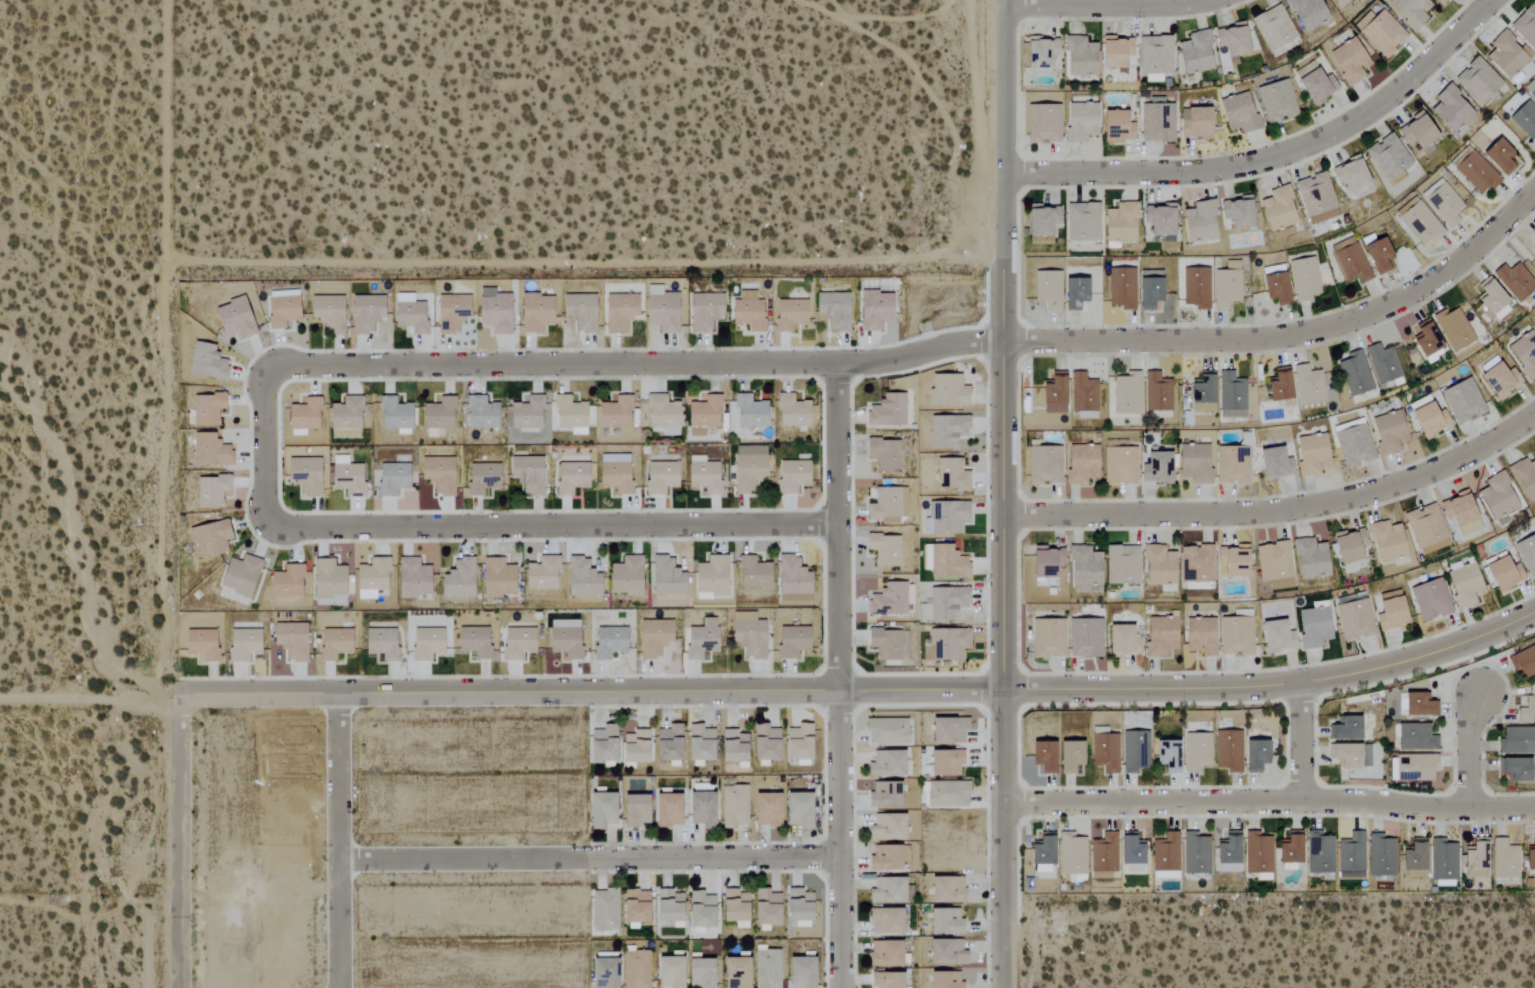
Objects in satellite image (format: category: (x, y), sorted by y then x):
building: (1438, 1)
building: (1339, 2)
road: (1110, 4)
building: (1409, 11)
building: (1307, 13)
building: (1525, 26)
building: (1273, 27)
building: (1380, 33)
building: (1231, 40)
building: (1040, 52)
building: (1114, 52)
building: (1195, 53)
building: (1155, 55)
building: (1506, 56)
building: (1079, 57)
building: (1348, 62)
building: (1478, 81)
building: (1316, 87)
building: (1531, 88)
building: (1276, 101)
building: (1450, 109)
building: (1238, 113)
building: (1525, 120)
building: (1080, 122)
building: (1043, 123)
building: (1157, 123)
building: (1195, 123)
building: (1116, 127)
building: (1416, 133)
road: (1275, 157)
building: (1388, 157)
building: (1499, 157)
building: (1476, 173)
building: (1350, 175)
building: (1316, 198)
building: (1444, 205)
building: (1277, 209)
building: (1236, 213)
building: (1041, 220)
building: (1159, 220)
building: (1199, 221)
building: (1083, 222)
building: (1120, 223)
building: (1420, 223)
building: (1533, 238)
building: (1533, 250)
building: (1378, 257)
building: (1349, 261)
building: (1231, 266)
building: (1304, 279)
building: (1515, 281)
building: (1274, 286)
building: (1196, 288)
building: (1121, 289)
building: (1148, 289)
building: (1225, 289)
building: (1047, 290)
building: (1073, 294)
building: (1492, 301)
building: (281, 308)
building: (660, 310)
building: (833, 310)
building: (873, 310)
building: (580, 312)
building: (619, 312)
building: (703, 312)
building: (747, 312)
building: (327, 313)
building: (450, 313)
building: (534, 313)
building: (364, 314)
building: (409, 314)
building: (788, 315)
building: (1453, 329)
building: (1427, 344)
road: (1004, 346)
road: (165, 349)
road: (922, 350)
building: (1524, 353)
building: (205, 362)
building: (1382, 363)
building: (1355, 374)
building: (1499, 381)
building: (1308, 385)
building: (1278, 386)
building: (947, 391)
building: (1157, 393)
building: (1201, 393)
building: (1053, 394)
building: (1127, 394)
building: (1231, 396)
building: (1462, 402)
building: (206, 410)
building: (886, 411)
building: (749, 412)
building: (791, 412)
building: (480, 413)
building: (613, 413)
building: (394, 414)
building: (527, 414)
building: (302, 415)
building: (437, 415)
building: (569, 415)
building: (662, 415)
building: (703, 415)
building: (345, 418)
building: (1428, 421)
building: (947, 430)
building: (1388, 433)
building: (1353, 445)
building: (883, 454)
building: (1311, 455)
building: (1194, 463)
building: (1080, 464)
building: (1274, 464)
building: (1044, 466)
building: (1119, 466)
building: (1232, 466)
building: (748, 468)
building: (1156, 468)
building: (614, 474)
building: (528, 475)
building: (950, 475)
building: (304, 476)
building: (703, 476)
building: (791, 476)
building: (570, 478)
building: (659, 478)
building: (1524, 478)
building: (348, 479)
building: (391, 479)
building: (211, 491)
building: (1497, 497)
building: (887, 504)
road: (1279, 509)
building: (1457, 511)
building: (948, 517)
building: (1425, 526)
road: (476, 527)
building: (209, 539)
building: (1386, 542)
building: (1348, 546)
building: (1434, 547)
building: (884, 550)
building: (1527, 554)
building: (925, 557)
building: (1310, 559)
building: (947, 562)
building: (1045, 562)
building: (1231, 562)
building: (1273, 562)
building: (1121, 565)
building: (1196, 565)
building: (1158, 566)
building: (1084, 568)
building: (541, 574)
building: (753, 574)
building: (1503, 575)
building: (625, 577)
building: (710, 577)
building: (371, 578)
building: (412, 578)
building: (581, 578)
building: (666, 578)
building: (458, 579)
building: (792, 581)
building: (328, 583)
building: (1464, 586)
building: (888, 600)
building: (1430, 600)
building: (946, 603)
building: (1390, 611)
building: (1354, 621)
building: (1313, 628)
building: (747, 635)
building: (1159, 637)
building: (1199, 637)
building: (1235, 637)
building: (1276, 637)
building: (653, 638)
building: (1047, 638)
building: (1084, 638)
building: (564, 639)
building: (290, 641)
building: (701, 641)
building: (1121, 641)
building: (473, 642)
building: (791, 642)
building: (516, 643)
building: (608, 643)
building: (884, 644)
building: (948, 644)
building: (201, 645)
building: (381, 645)
building: (243, 646)
building: (329, 650)
building: (1523, 663)
road: (837, 675)
road: (1275, 689)
road: (591, 696)
road: (90, 699)
building: (1418, 706)
building: (1527, 712)
building: (1344, 730)
building: (947, 731)
building: (886, 732)
building: (1416, 738)
building: (1516, 741)
building: (632, 743)
building: (667, 744)
building: (698, 744)
building: (764, 744)
building: (797, 744)
building: (601, 745)
road: (1306, 745)
building: (731, 747)
road: (1476, 749)
building: (1228, 751)
building: (1135, 752)
building: (1196, 752)
building: (1105, 753)
building: (1166, 756)
building: (1255, 756)
building: (1350, 756)
building: (1042, 757)
building: (1068, 757)
building: (945, 763)
building: (886, 765)
building: (1415, 768)
building: (1514, 770)
building: (946, 795)
building: (884, 796)
road: (1269, 802)
building: (701, 806)
building: (733, 807)
building: (666, 810)
building: (765, 810)
building: (797, 810)
building: (600, 811)
building: (633, 811)
building: (886, 827)
road: (1003, 840)
road: (181, 843)
road: (336, 843)
building: (1041, 853)
building: (1195, 853)
building: (1288, 853)
building: (1319, 853)
building: (1072, 854)
building: (1131, 854)
building: (1227, 854)
building: (1258, 855)
building: (1381, 855)
building: (1103, 856)
building: (1165, 856)
building: (1351, 856)
building: (1413, 856)
building: (1530, 857)
building: (884, 858)
building: (1504, 859)
road: (587, 860)
building: (1475, 860)
building: (1443, 863)
building: (945, 889)
building: (887, 890)
building: (732, 905)
building: (634, 906)
building: (667, 906)
building: (765, 907)
building: (797, 907)
building: (604, 910)
building: (699, 910)
building: (884, 921)
building: (944, 921)
building: (945, 952)
building: (884, 953)
building: (635, 969)
building: (766, 969)
building: (603, 972)
building: (668, 972)
building: (734, 972)
building: (800, 972)
building: (699, 973)
building: (943, 979)
building: (885, 980)

